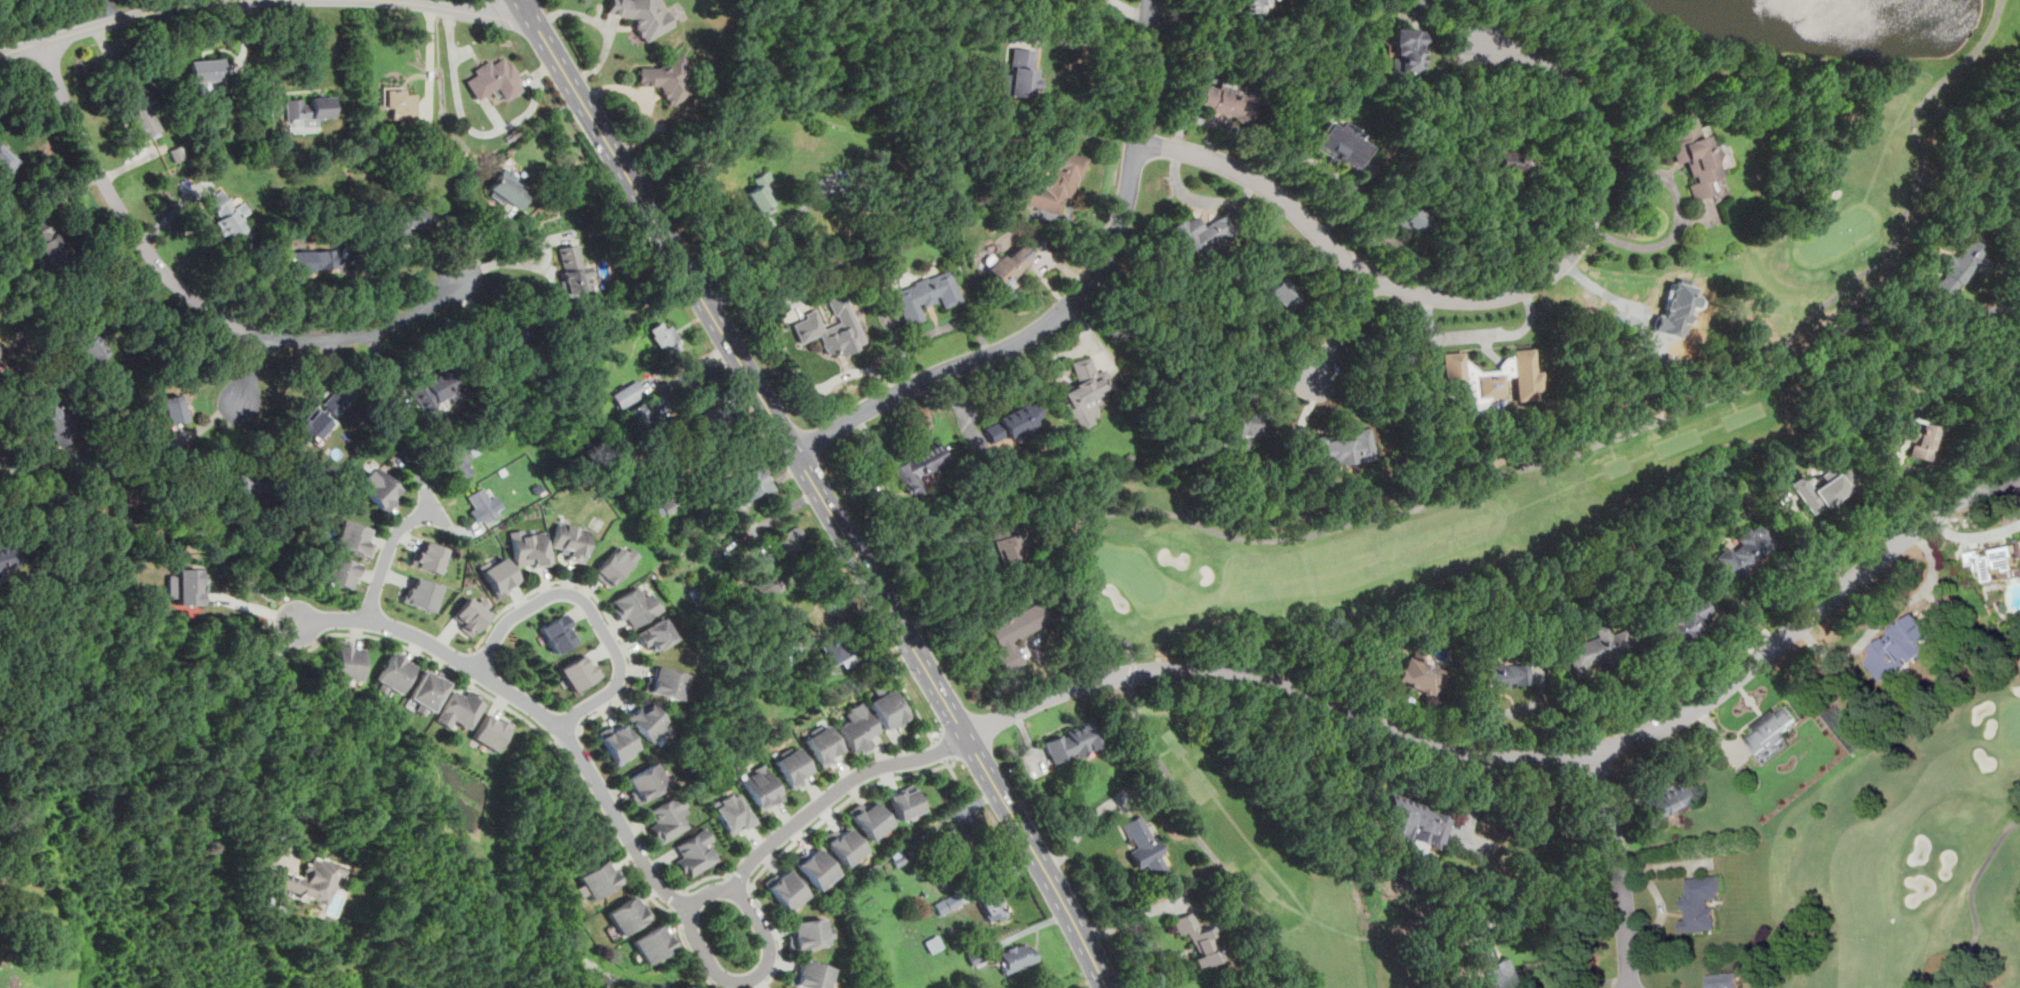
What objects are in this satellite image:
road: (278, 0)
road: (261, 1)
road: (482, 6)
building: (1253, 6)
road: (110, 11)
building: (643, 14)
road: (1082, 43)
building: (1405, 50)
road: (270, 55)
road: (430, 62)
building: (207, 74)
building: (1020, 74)
building: (669, 78)
building: (495, 79)
building: (1225, 101)
building: (401, 103)
building: (138, 108)
building: (308, 109)
road: (474, 131)
building: (1340, 144)
building: (1695, 155)
building: (6, 161)
building: (1511, 161)
building: (855, 173)
building: (1058, 180)
building: (509, 189)
building: (762, 194)
road: (1501, 212)
building: (1407, 216)
building: (228, 217)
road: (1678, 219)
building: (399, 224)
building: (1202, 231)
park: (1835, 233)
building: (51, 240)
road: (537, 242)
building: (309, 261)
building: (1962, 263)
building: (1010, 265)
building: (573, 271)
road: (752, 277)
building: (1274, 287)
road: (348, 289)
building: (928, 295)
road: (1477, 298)
road: (1074, 300)
road: (186, 301)
road: (1991, 318)
building: (832, 327)
road: (1344, 327)
building: (512, 335)
building: (667, 337)
building: (90, 343)
road: (248, 370)
building: (1453, 370)
building: (1526, 375)
road: (695, 378)
building: (1483, 384)
building: (435, 388)
building: (1086, 391)
building: (630, 393)
building: (333, 404)
building: (173, 408)
building: (641, 411)
building: (324, 413)
building: (1240, 415)
building: (710, 420)
building: (1012, 421)
building: (55, 422)
building: (312, 426)
building: (499, 427)
building: (1909, 435)
building: (476, 447)
building: (1341, 448)
building: (460, 460)
building: (918, 468)
road: (47, 474)
building: (240, 480)
building: (753, 481)
park: (1500, 484)
building: (380, 487)
building: (1824, 488)
road: (819, 491)
building: (486, 505)
building: (669, 506)
building: (127, 507)
road: (432, 507)
road: (1385, 510)
building: (986, 517)
building: (356, 538)
building: (570, 539)
building: (791, 540)
building: (1010, 542)
building: (528, 547)
building: (153, 549)
building: (1747, 549)
road: (386, 553)
building: (8, 557)
building: (428, 557)
building: (1997, 561)
building: (615, 564)
park: (1130, 571)
building: (345, 572)
building: (498, 575)
building: (191, 586)
building: (765, 587)
building: (695, 592)
building: (425, 593)
road: (962, 595)
road: (528, 597)
building: (633, 605)
road: (250, 609)
road: (591, 609)
road: (1887, 612)
building: (471, 613)
building: (793, 618)
building: (1683, 623)
building: (1018, 631)
building: (556, 632)
building: (654, 634)
road: (360, 635)
building: (836, 647)
building: (1597, 647)
building: (1899, 647)
building: (792, 654)
road: (469, 662)
building: (350, 663)
building: (396, 672)
building: (575, 672)
road: (631, 674)
building: (1416, 674)
building: (1504, 675)
building: (665, 683)
building: (431, 690)
road: (530, 704)
road: (506, 706)
road: (914, 707)
building: (887, 708)
building: (462, 710)
building: (648, 721)
park: (2013, 723)
building: (859, 727)
road: (952, 731)
building: (491, 733)
building: (1769, 734)
road: (568, 736)
road: (934, 739)
building: (616, 741)
building: (1076, 742)
road: (259, 743)
building: (824, 745)
road: (940, 750)
road: (964, 753)
road: (1522, 759)
building: (793, 767)
road: (956, 776)
building: (645, 782)
building: (762, 787)
building: (1670, 800)
building: (905, 802)
road: (817, 803)
road: (840, 807)
building: (732, 813)
building: (667, 819)
building: (872, 819)
building: (1414, 824)
road: (607, 830)
road: (1079, 832)
building: (957, 842)
building: (1145, 845)
building: (846, 846)
building: (694, 853)
park: (1913, 855)
building: (900, 861)
building: (816, 867)
road: (1618, 869)
building: (312, 879)
building: (599, 879)
road: (705, 881)
road: (739, 883)
building: (786, 889)
road: (1971, 896)
road: (679, 901)
building: (1701, 902)
building: (282, 903)
building: (948, 903)
building: (991, 905)
building: (627, 914)
road: (1130, 917)
road: (1550, 923)
building: (809, 933)
building: (1201, 937)
road: (780, 939)
building: (653, 943)
building: (934, 943)
road: (690, 950)
road: (1162, 953)
building: (977, 956)
building: (1017, 957)
building: (1490, 966)
building: (811, 975)
road: (746, 978)
building: (1723, 980)
building: (784, 987)
building: (785, 987)

